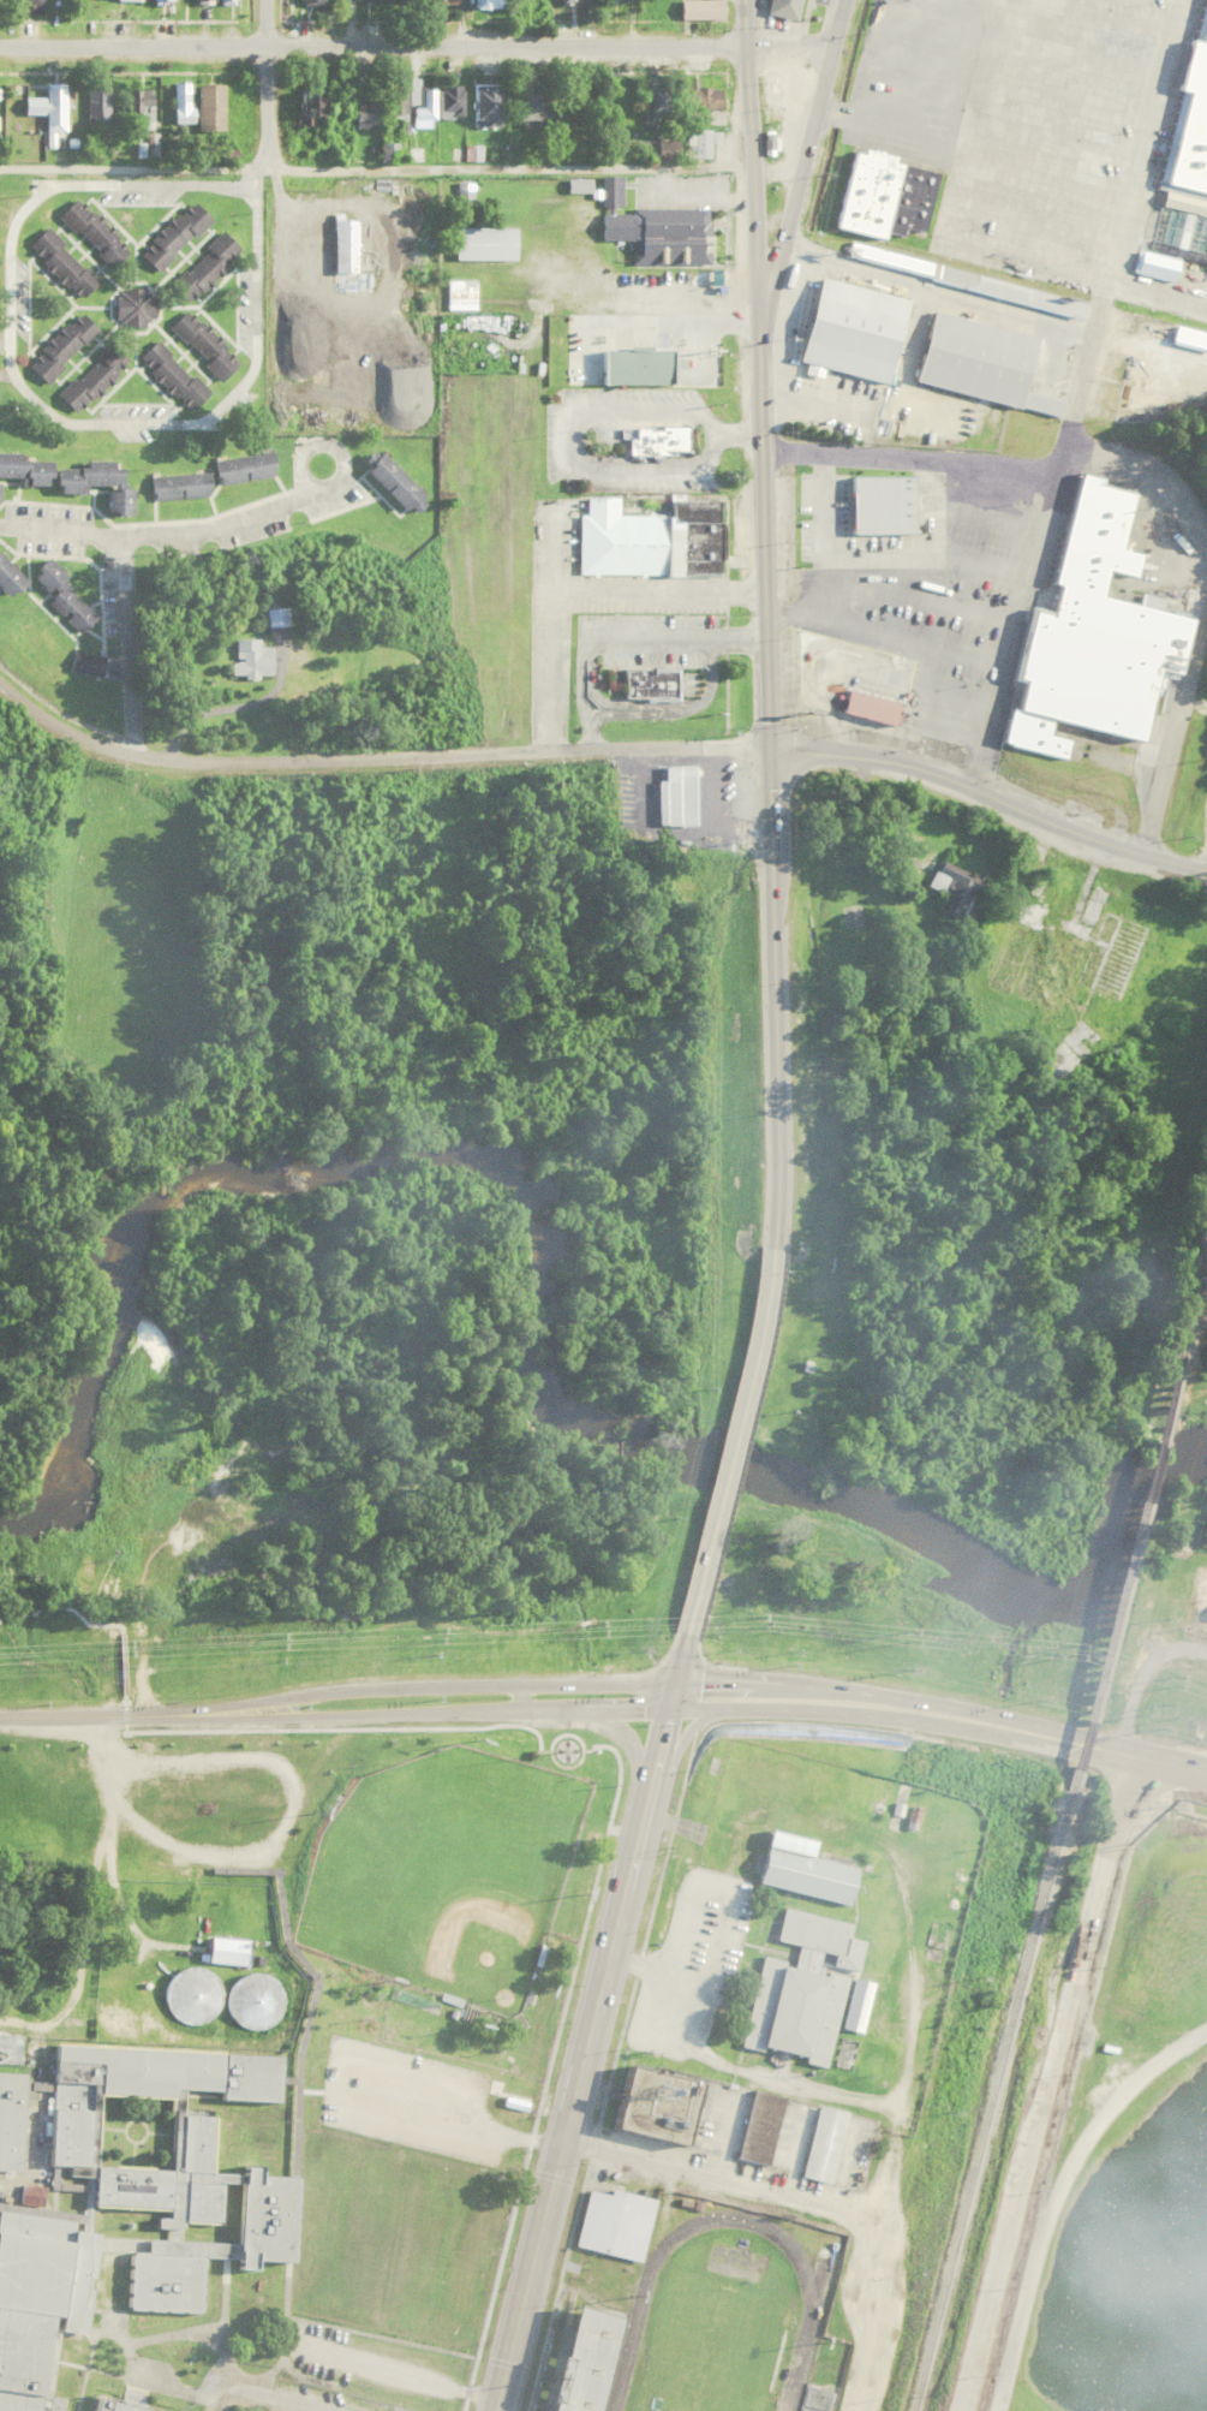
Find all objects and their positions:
road: (1099, 17)
road: (416, 42)
road: (1074, 50)
road: (265, 83)
road: (1062, 94)
road: (972, 103)
road: (889, 126)
road: (748, 138)
road: (1051, 138)
road: (807, 141)
road: (375, 163)
road: (1041, 178)
road: (691, 201)
road: (942, 222)
road: (1154, 296)
road: (25, 392)
road: (1074, 392)
road: (315, 445)
road: (908, 458)
road: (985, 519)
road: (234, 523)
road: (550, 550)
road: (871, 558)
road: (979, 565)
road: (126, 581)
road: (891, 593)
road: (580, 594)
road: (1206, 606)
road: (884, 638)
road: (372, 752)
road: (766, 772)
road: (990, 791)
railway: (1195, 1304)
road: (729, 1452)
railway: (1124, 1582)
road: (679, 1660)
road: (404, 1687)
road: (839, 1689)
road: (670, 1696)
road: (688, 1709)
road: (400, 1713)
road: (855, 1715)
road: (67, 1716)
road: (625, 1733)
road: (659, 1738)
road: (682, 1739)
road: (1104, 1749)
park: (443, 1875)
road: (1044, 2082)
road: (574, 2089)
railway: (990, 2111)
road: (691, 2167)
stadium: (688, 2305)
road: (400, 2374)
road: (289, 2395)
road: (225, 2399)

